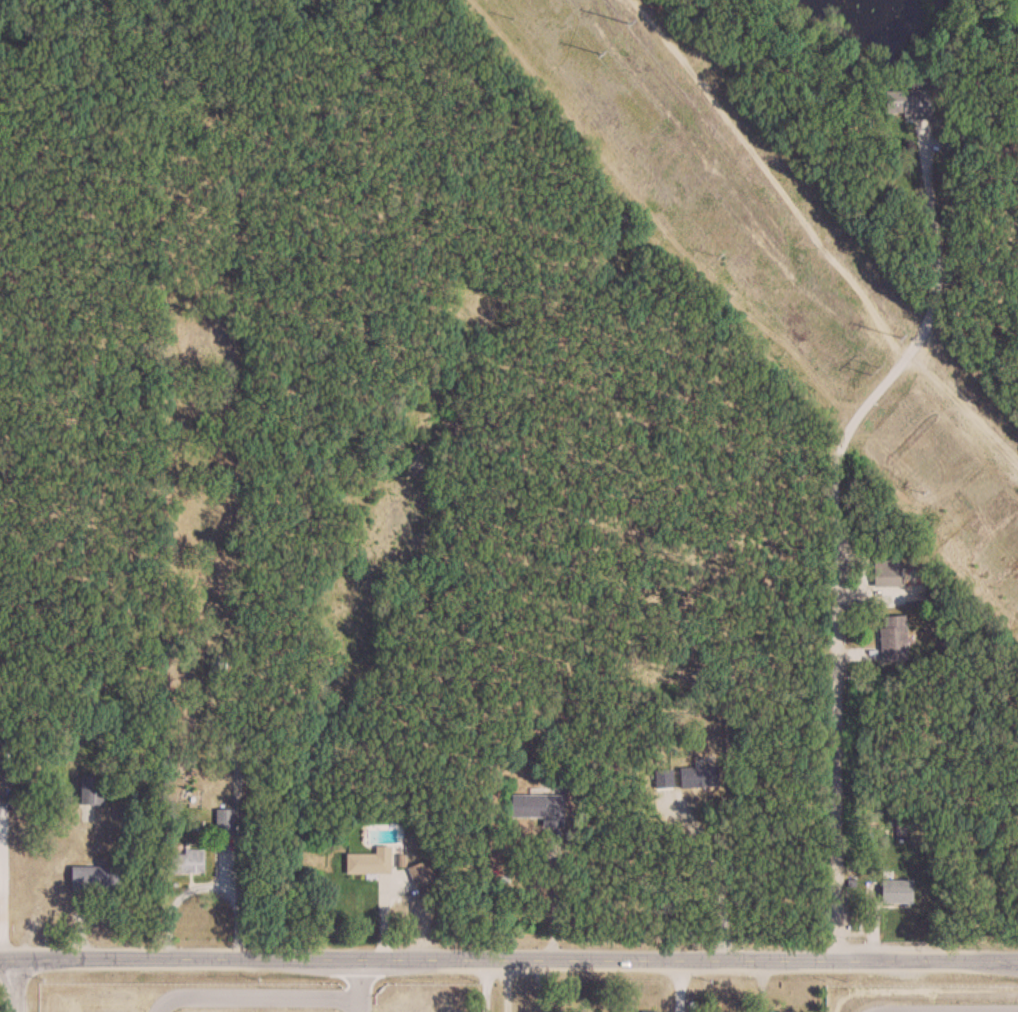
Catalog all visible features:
power tower: (625, 23)
power tower: (596, 51)
building: (904, 102)
power tower: (894, 336)
power tower: (863, 369)
road: (838, 534)
building: (884, 576)
building: (891, 638)
building: (219, 666)
building: (696, 777)
building: (95, 791)
building: (539, 808)
building: (228, 821)
road: (237, 856)
building: (190, 862)
building: (372, 863)
road: (711, 869)
building: (423, 875)
building: (99, 878)
building: (894, 890)
road: (554, 895)
road: (509, 958)
road: (486, 985)
road: (505, 985)
road: (360, 986)
road: (18, 988)
road: (255, 995)
road: (943, 1010)

